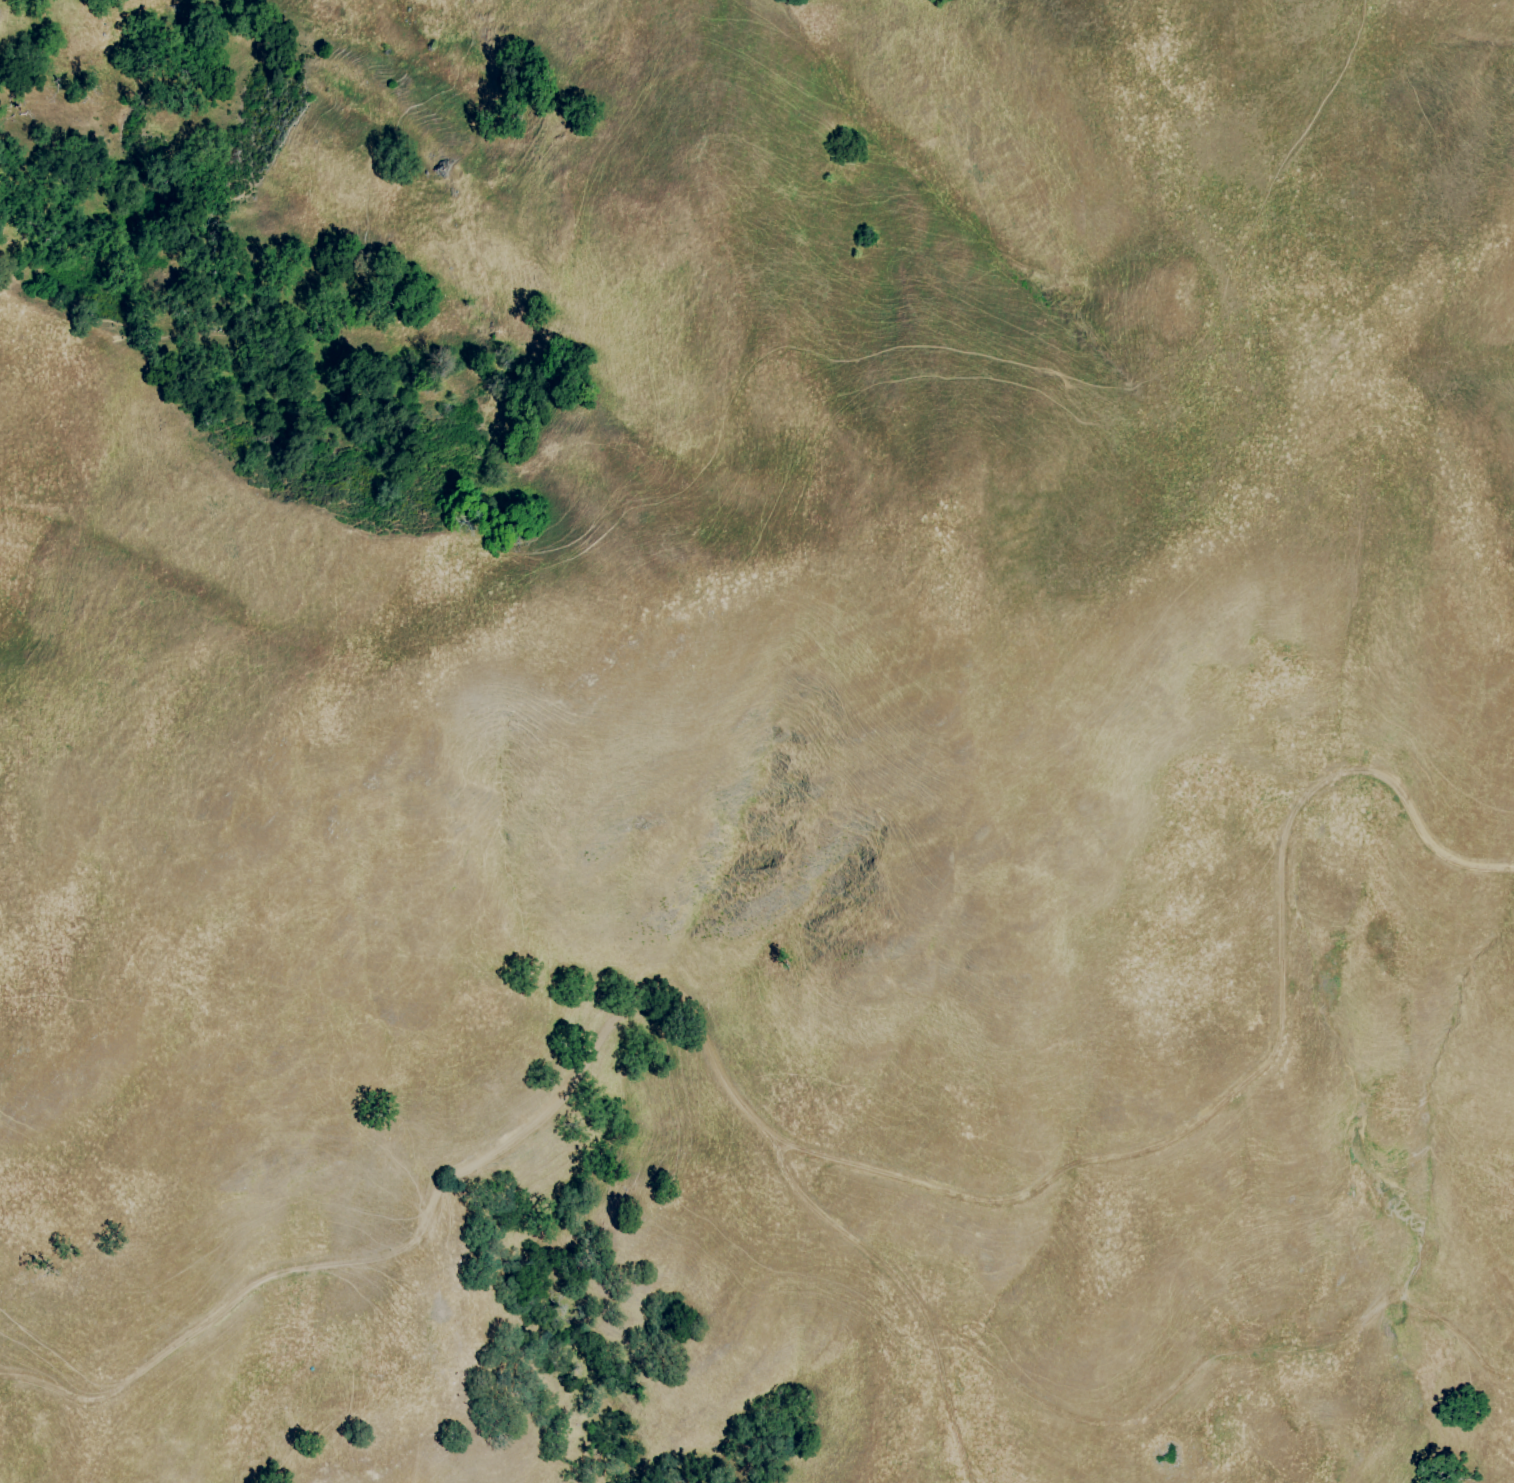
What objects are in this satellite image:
road: (796, 1147)

